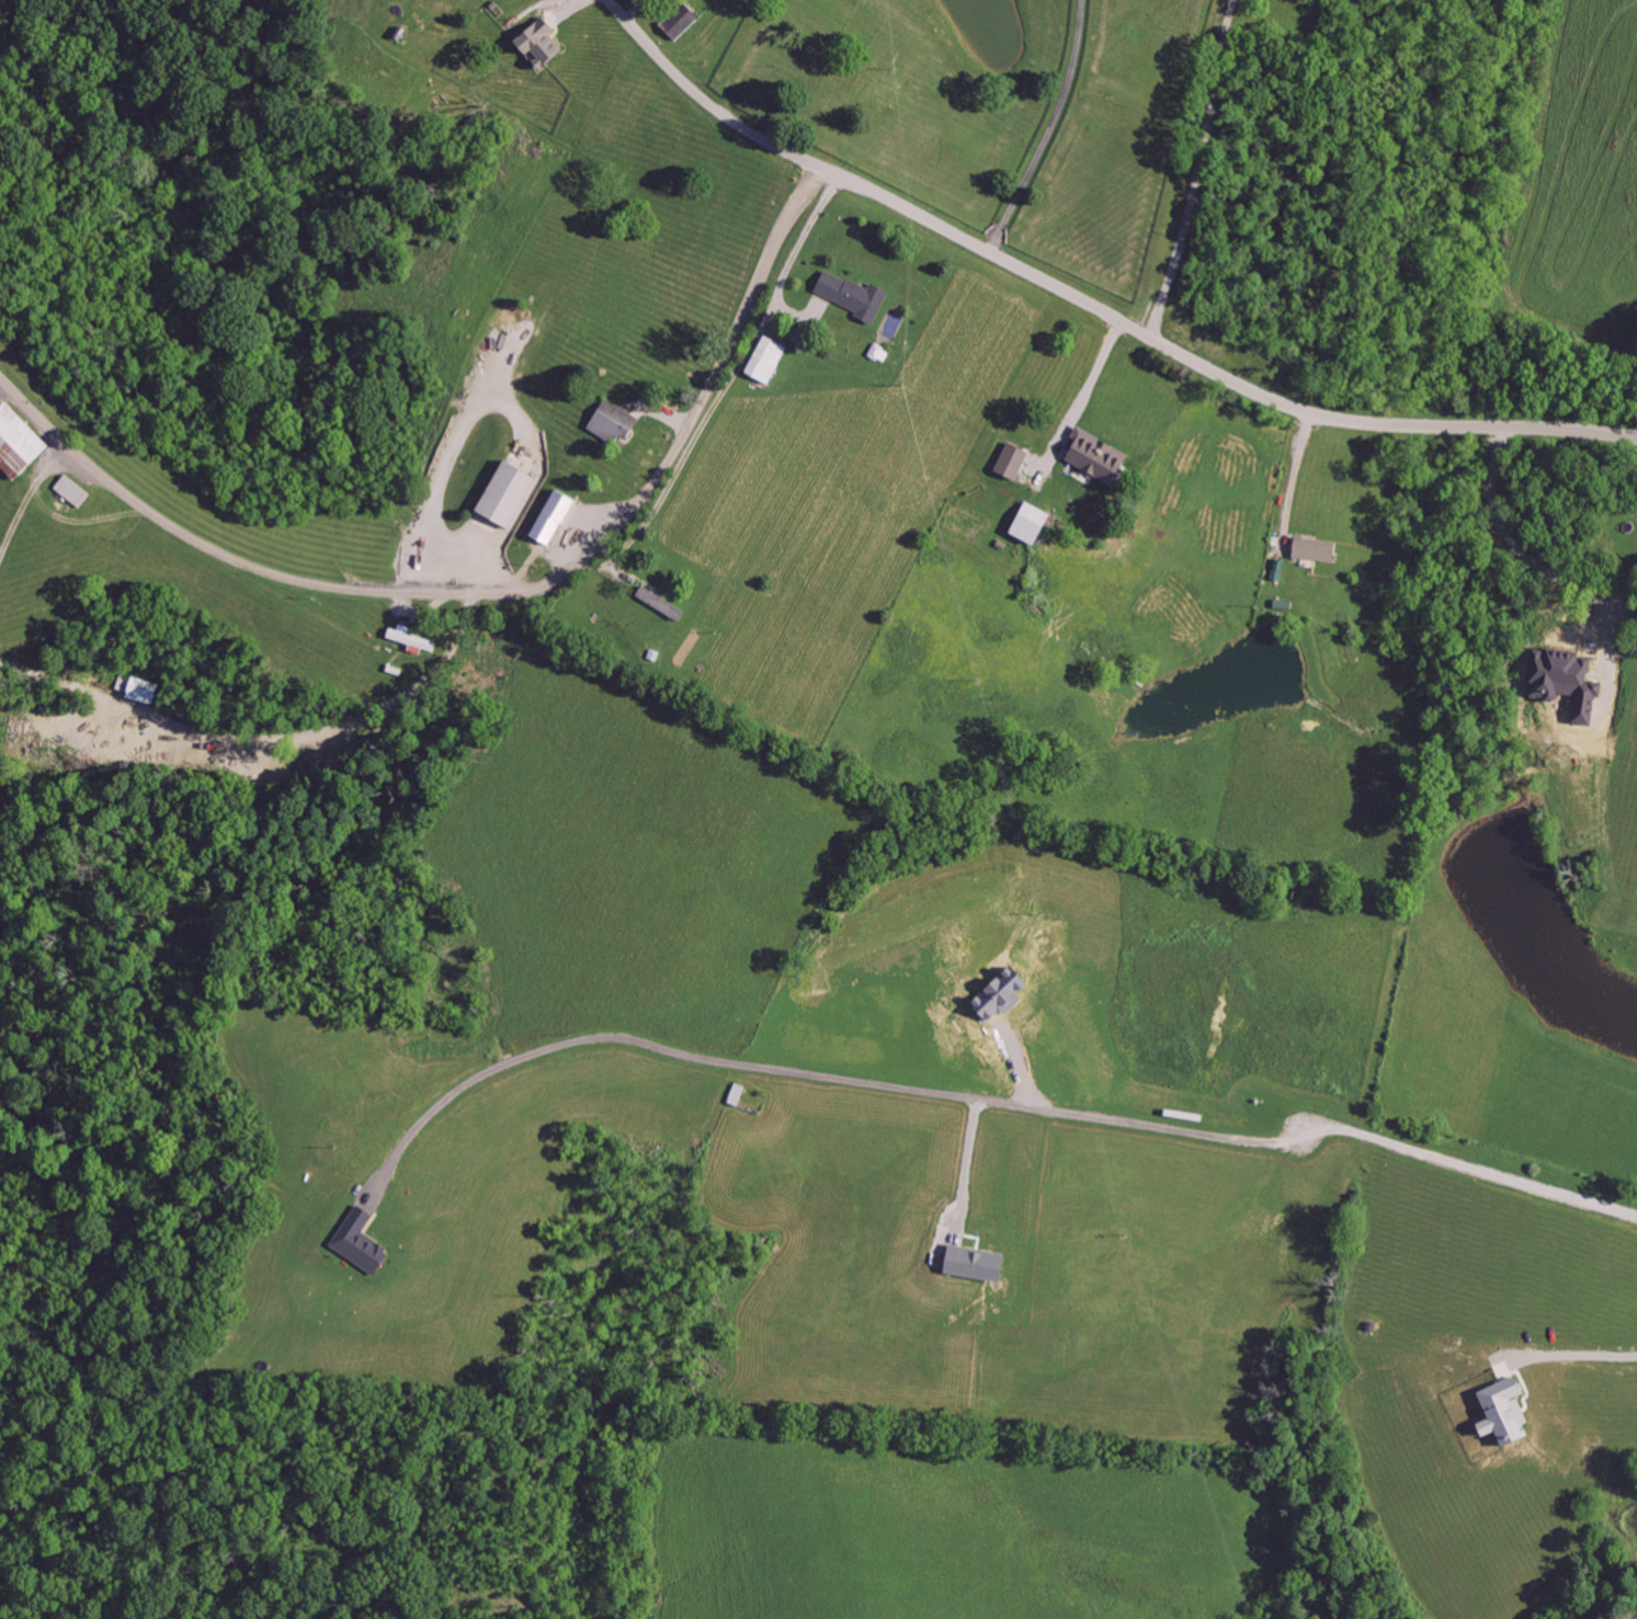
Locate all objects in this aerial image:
building: (678, 20)
building: (547, 43)
road: (1049, 128)
road: (798, 252)
building: (854, 296)
road: (1090, 301)
road: (806, 320)
building: (768, 360)
road: (1076, 410)
building: (618, 423)
building: (21, 442)
road: (685, 456)
road: (447, 457)
building: (1018, 461)
building: (1092, 467)
road: (1294, 486)
road: (29, 488)
building: (78, 490)
building: (511, 492)
building: (557, 515)
building: (1032, 524)
building: (1317, 549)
road: (1544, 554)
road: (496, 589)
building: (661, 602)
building: (414, 639)
building: (1562, 680)
building: (143, 691)
road: (264, 736)
building: (1008, 995)
road: (990, 1101)
building: (365, 1242)
building: (984, 1263)
building: (1501, 1412)
building: (1477, 1428)

